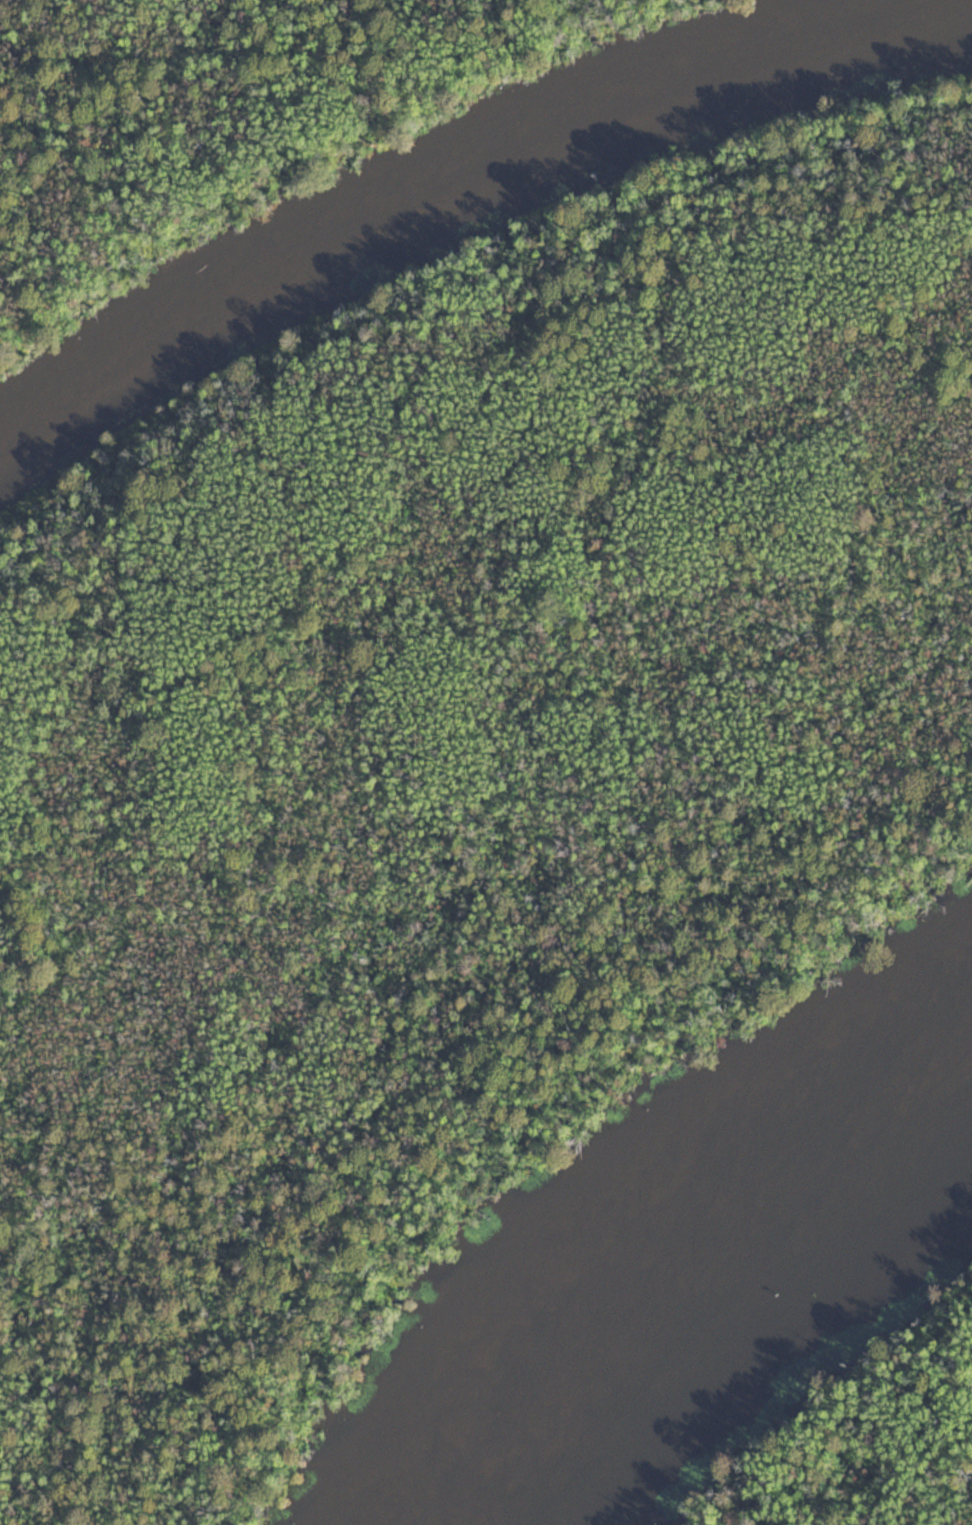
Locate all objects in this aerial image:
river: (463, 177)
river: (683, 1256)

